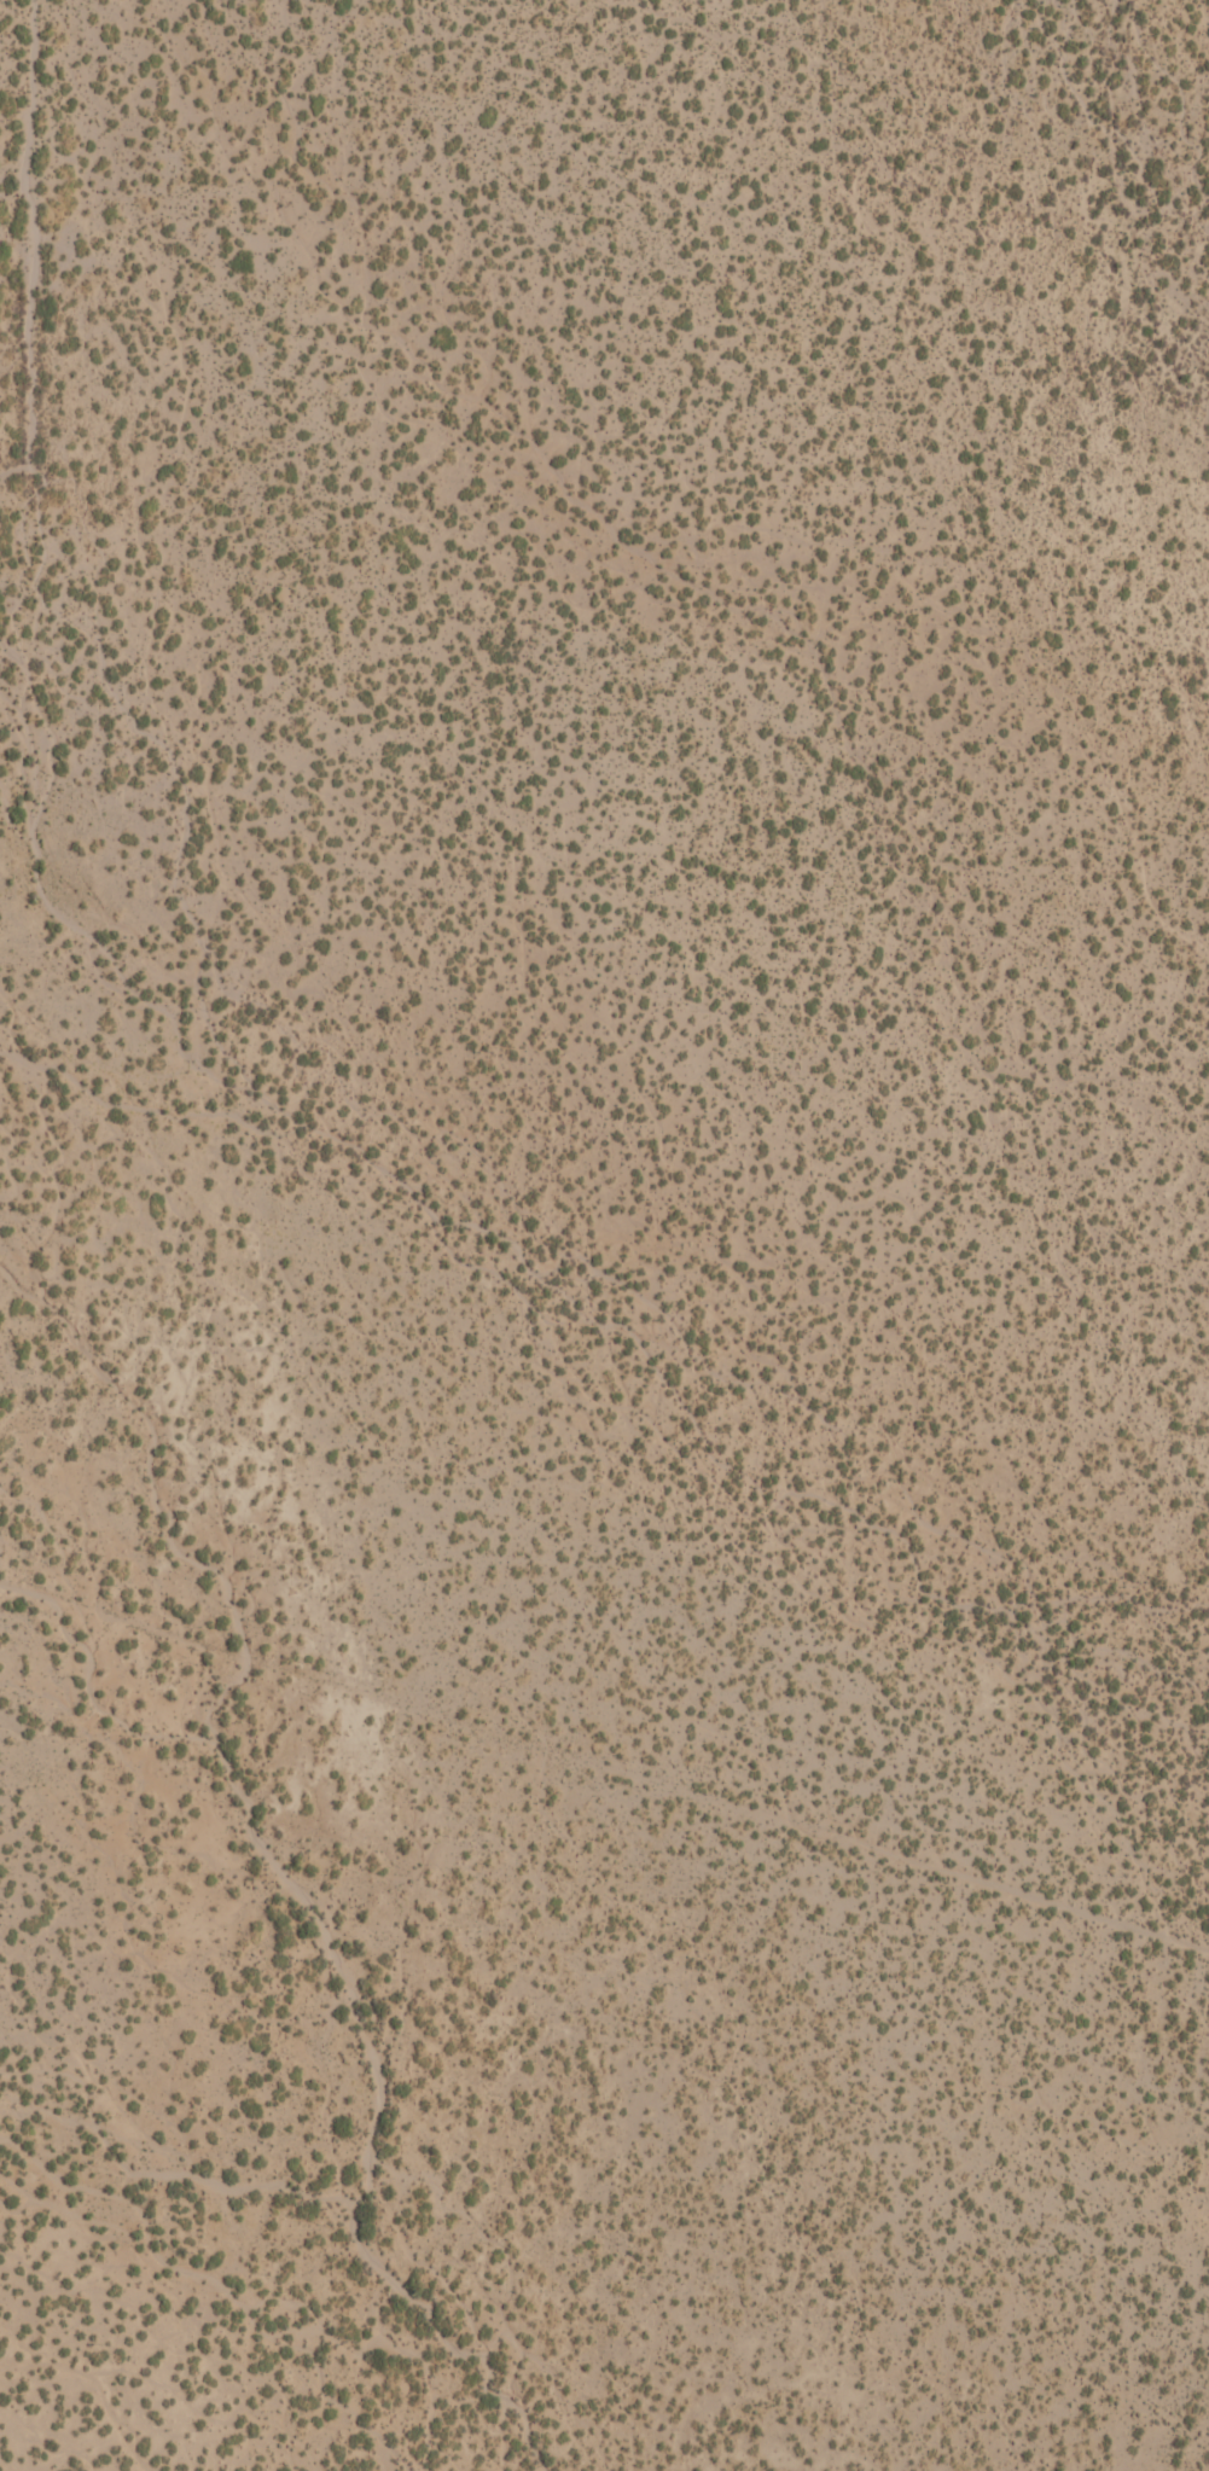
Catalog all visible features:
road: (604, 1763)

